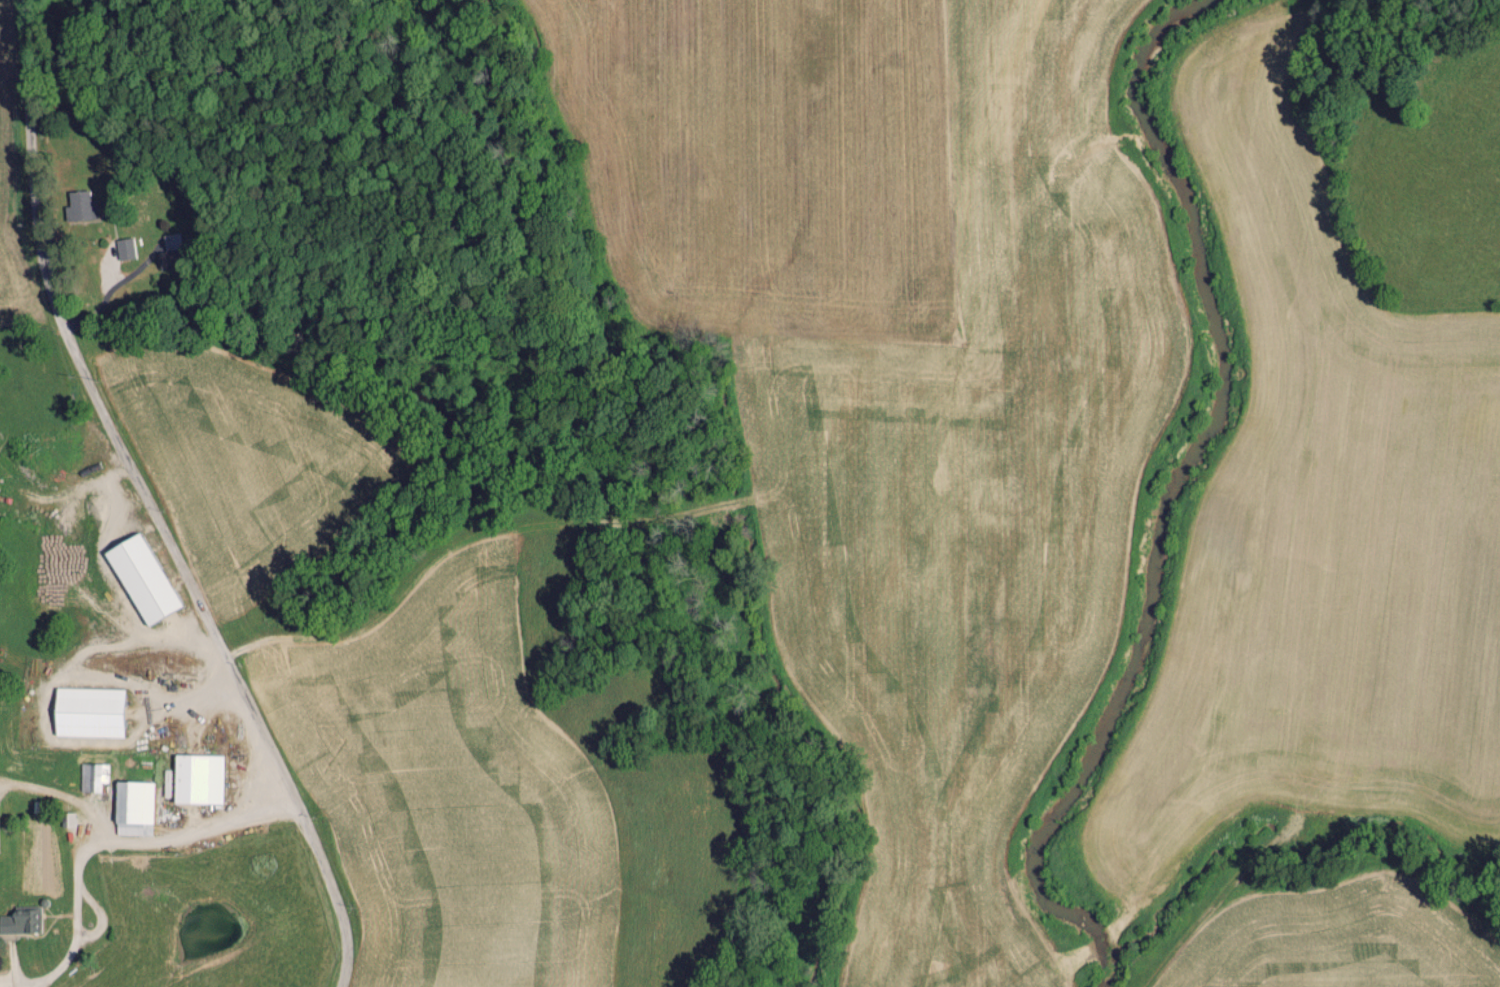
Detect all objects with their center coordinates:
building: (80, 206)
building: (181, 241)
building: (123, 248)
road: (149, 502)
building: (140, 578)
building: (86, 712)
building: (91, 777)
building: (196, 779)
building: (131, 808)
building: (17, 922)

